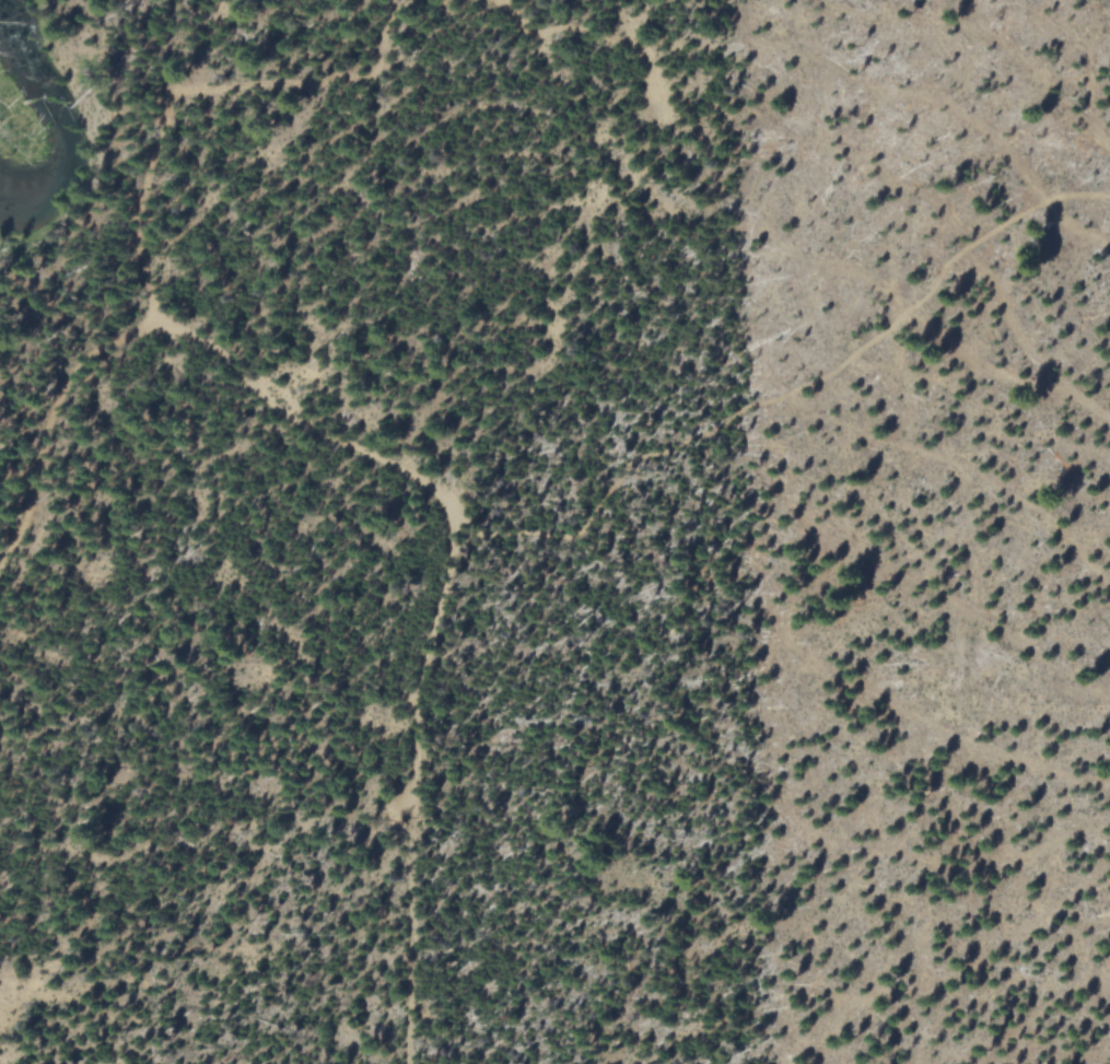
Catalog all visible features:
river: (36, 108)
road: (54, 411)
road: (318, 507)

